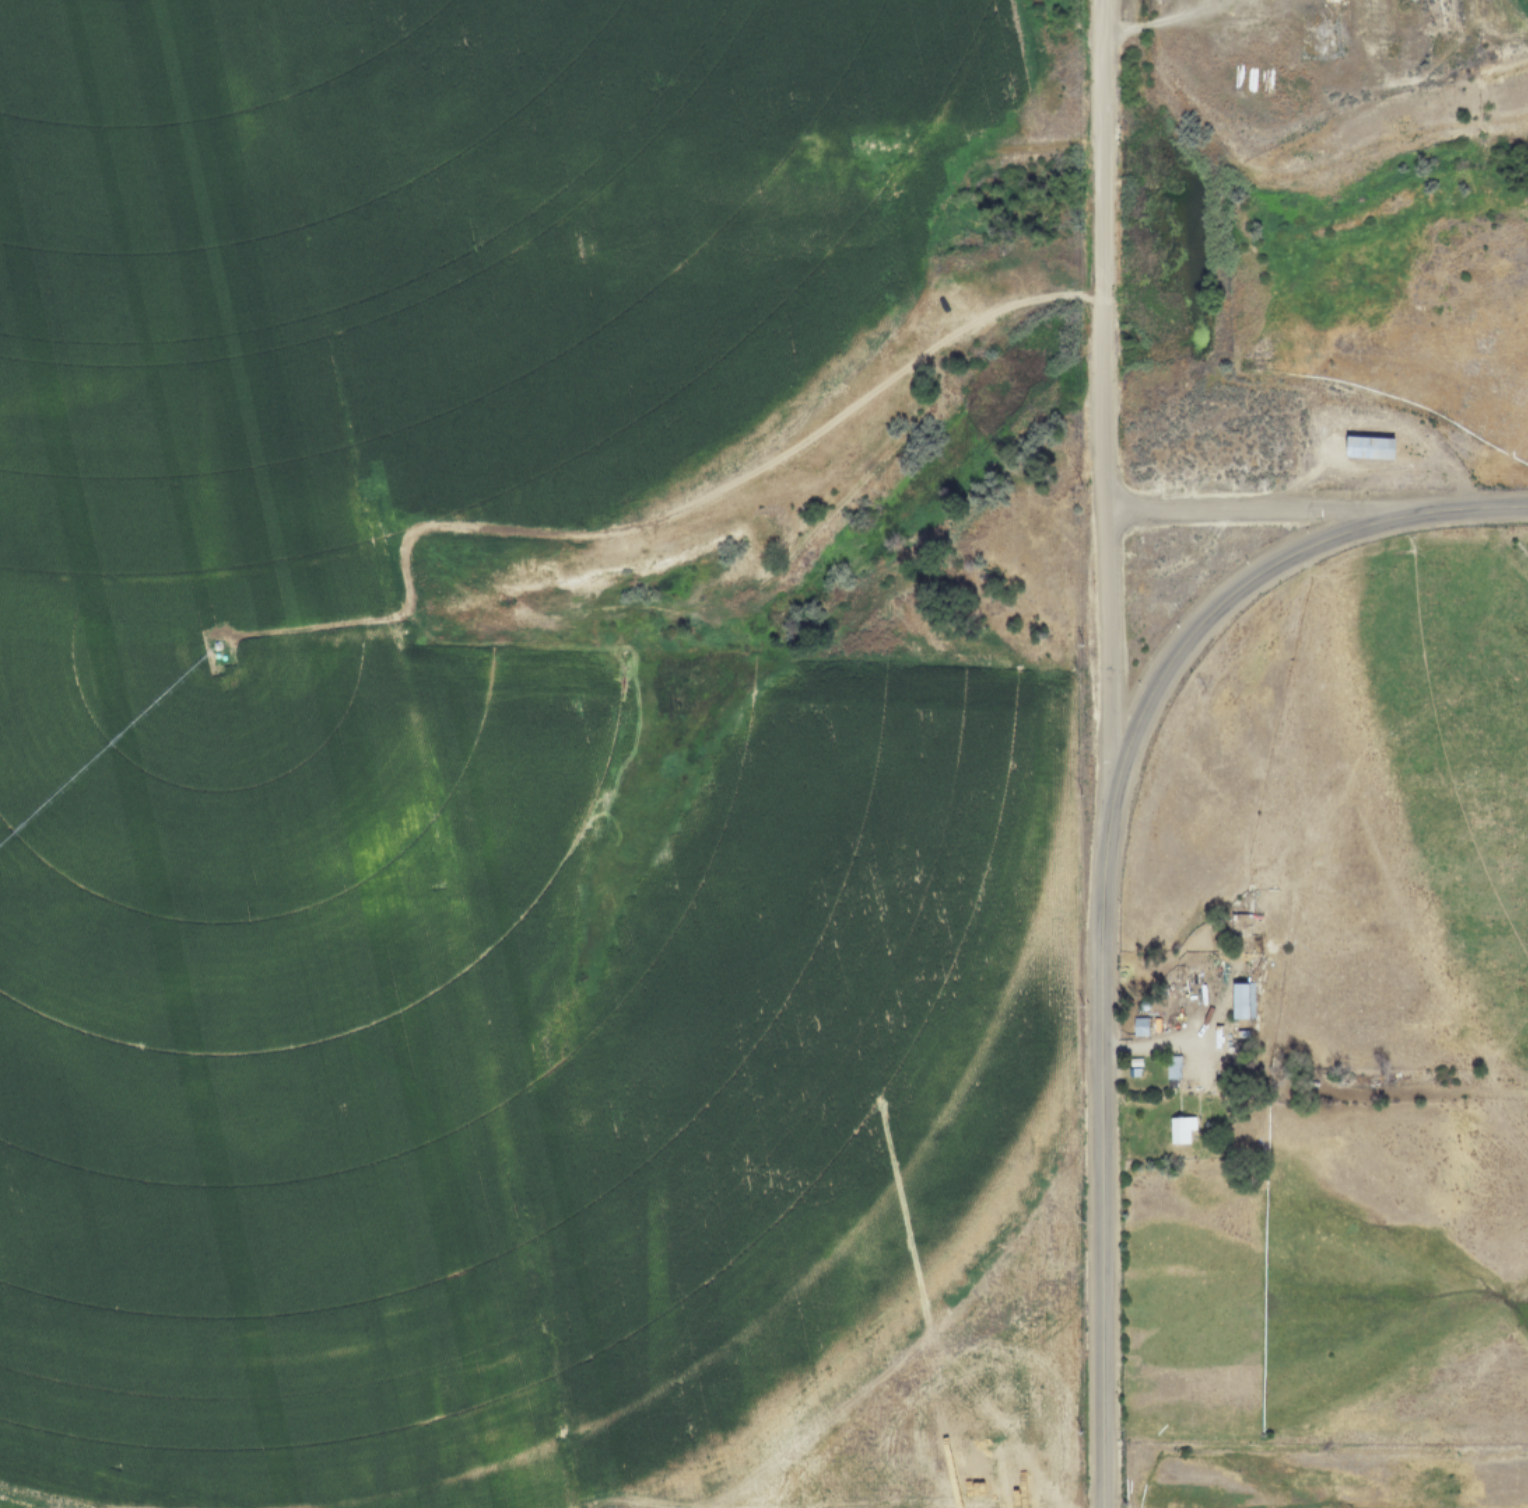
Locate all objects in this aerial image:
road: (1105, 407)
building: (1369, 446)
road: (1275, 509)
road: (1253, 575)
crop: (214, 854)
building: (1248, 933)
building: (1243, 1001)
building: (1140, 1027)
crop: (1334, 1048)
building: (1173, 1068)
building: (1181, 1130)
road: (1102, 1161)

